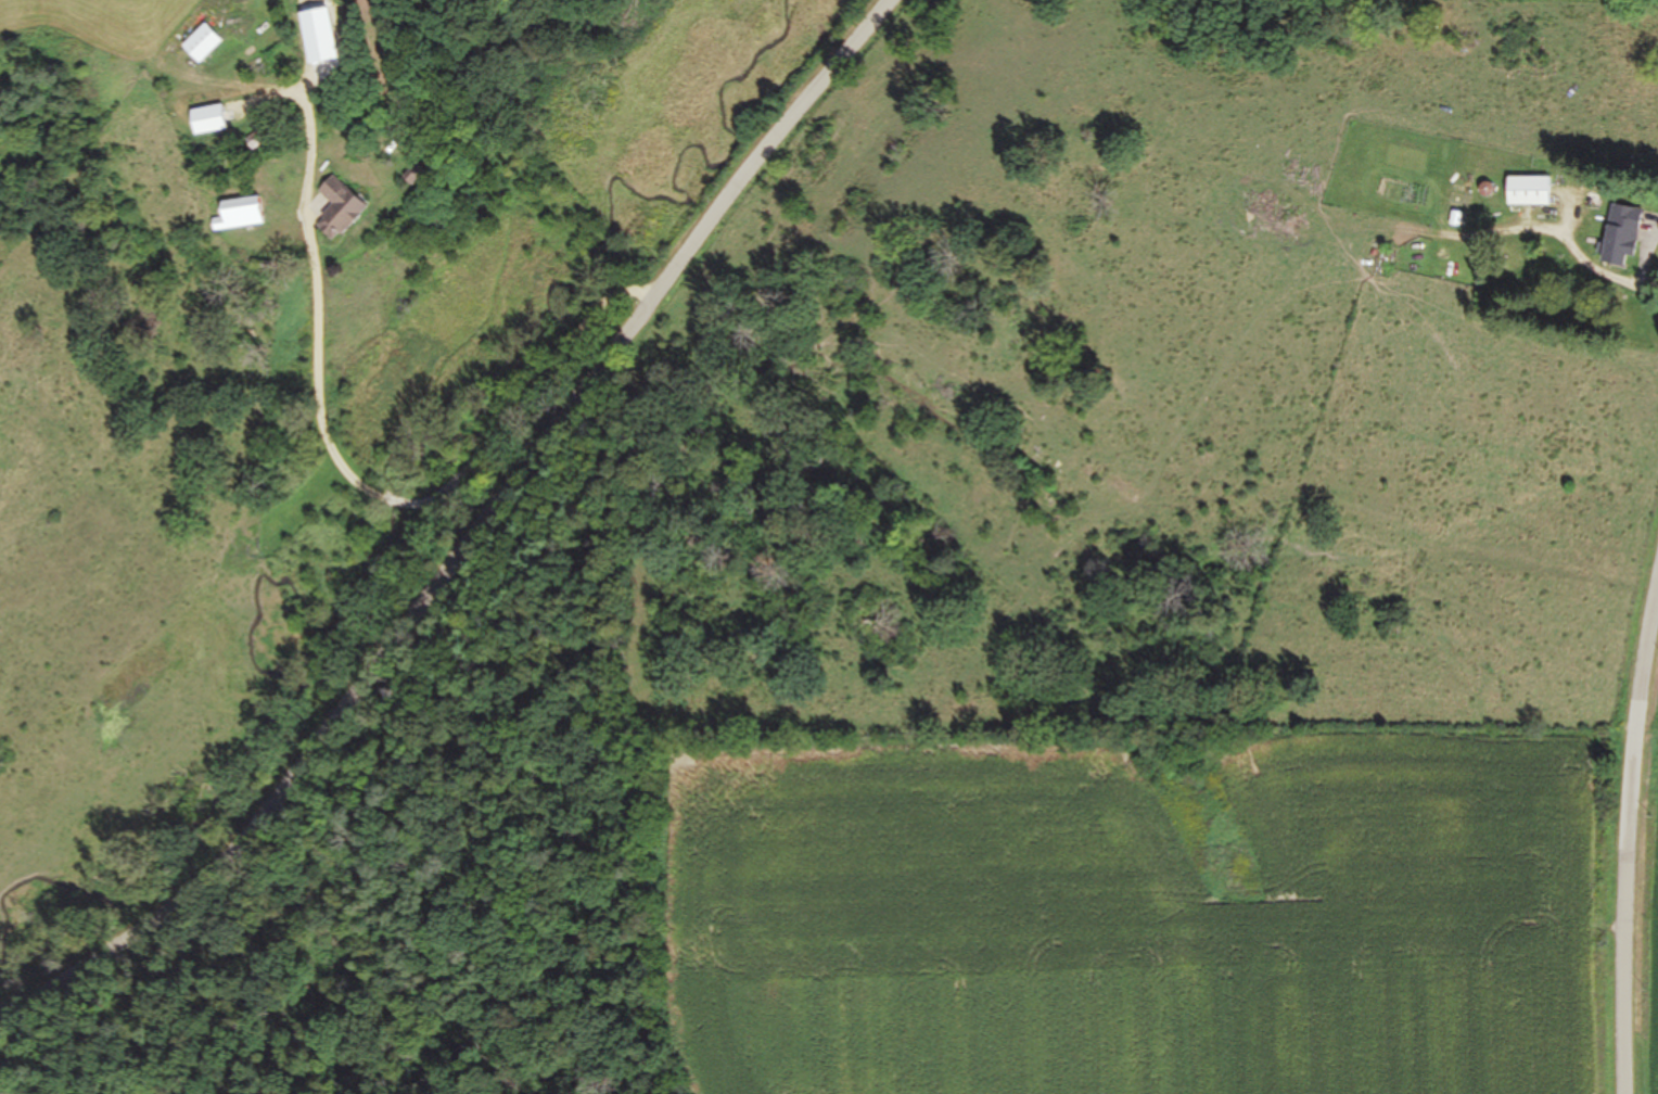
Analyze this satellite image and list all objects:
building: (201, 43)
building: (414, 176)
building: (1528, 191)
building: (337, 208)
building: (239, 215)
building: (1621, 236)
road: (375, 494)
road: (463, 547)
road: (1624, 816)

